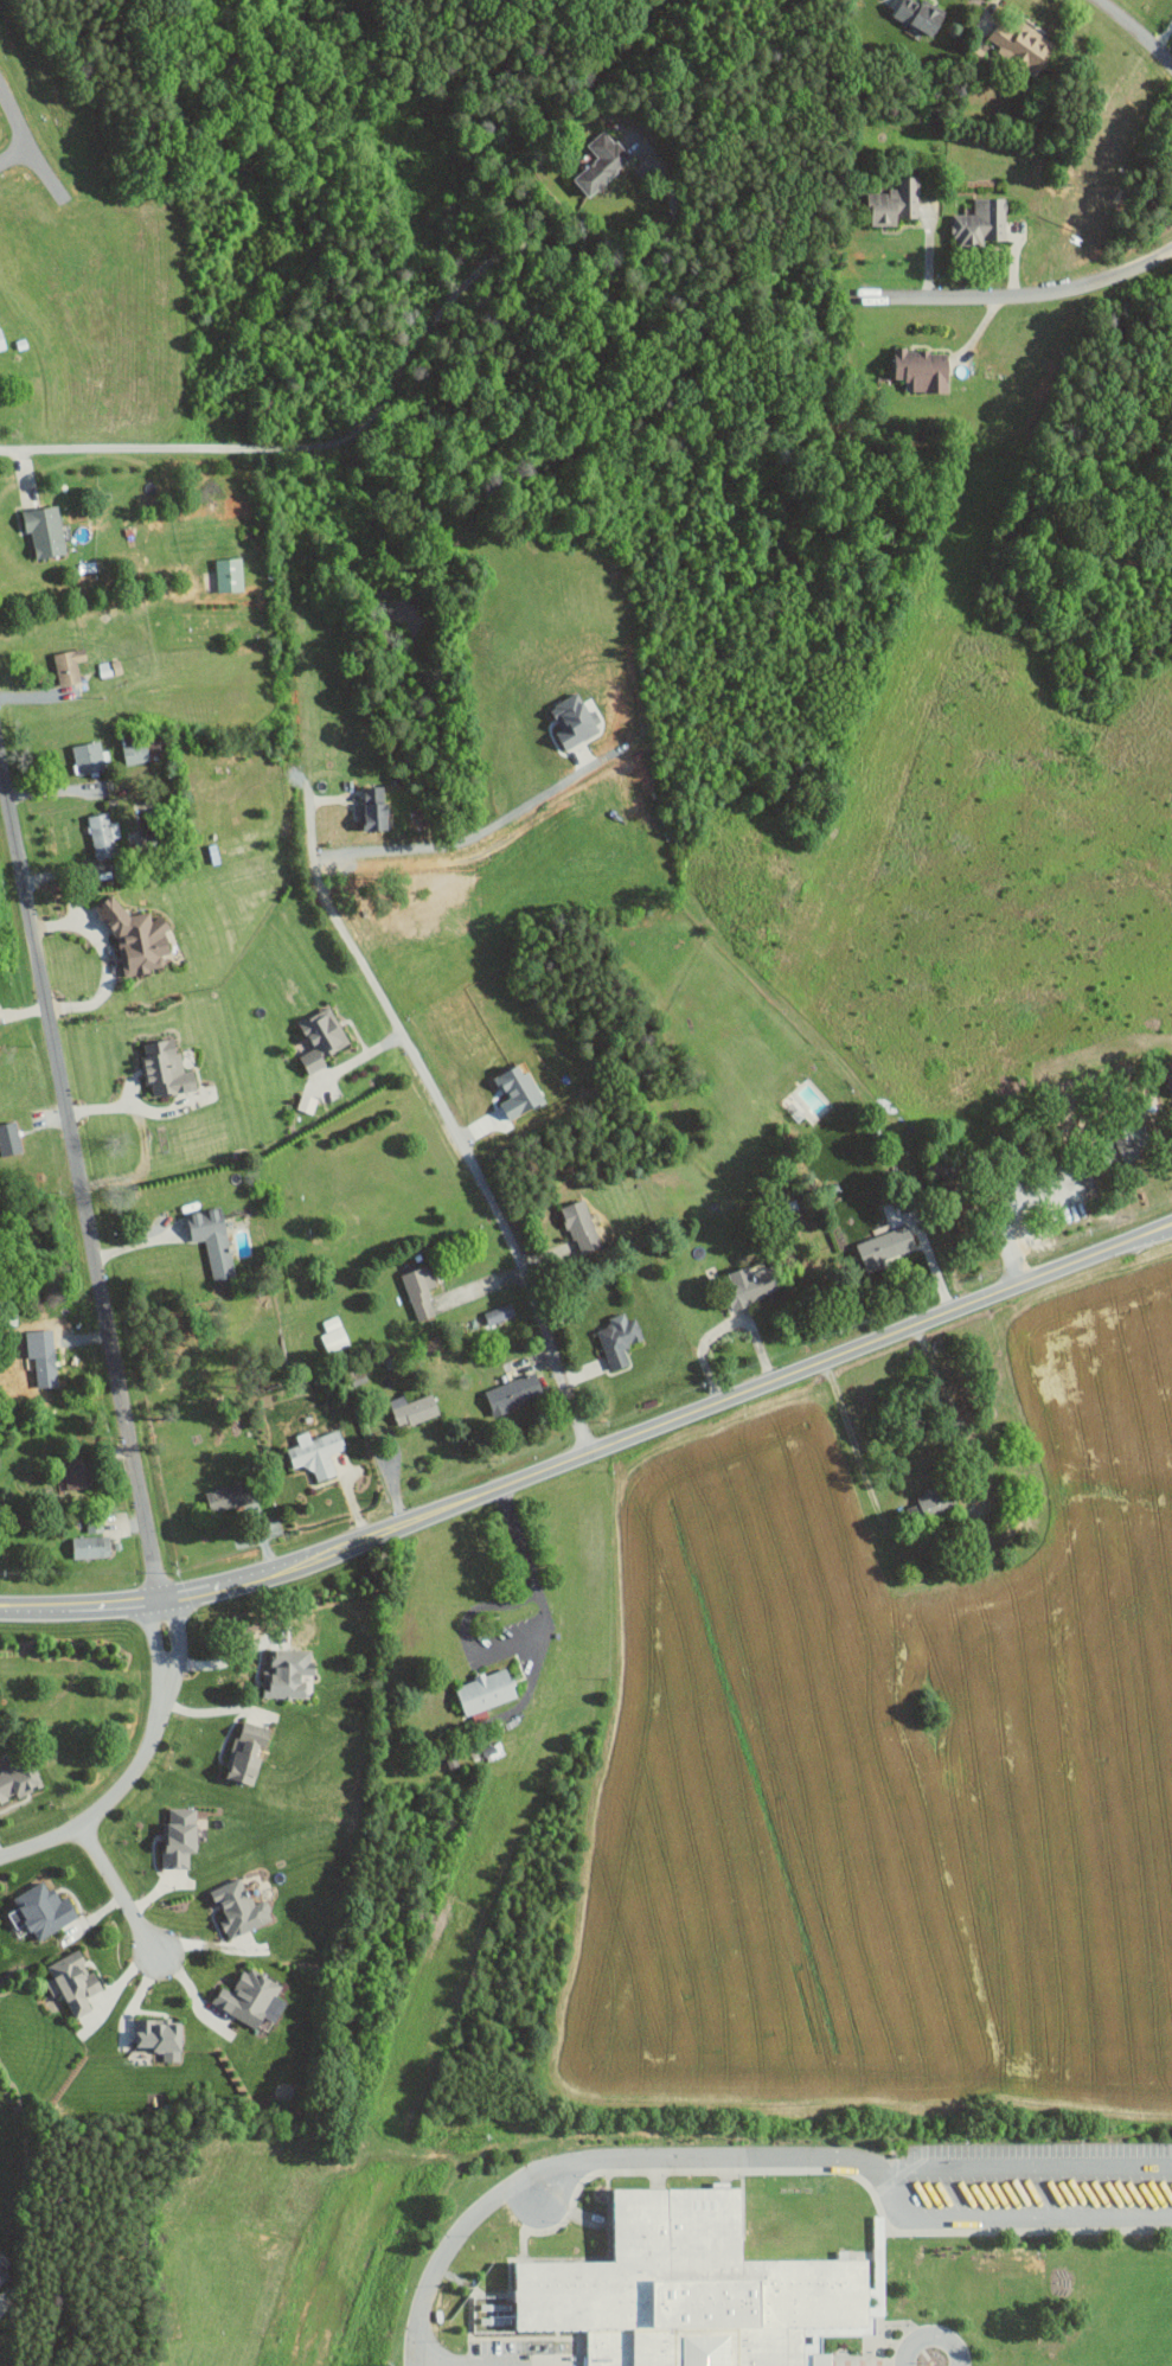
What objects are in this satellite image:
building: (918, 17)
road: (1135, 32)
road: (1163, 37)
building: (1023, 46)
road: (31, 145)
road: (17, 158)
building: (601, 162)
building: (894, 203)
building: (980, 224)
road: (1014, 298)
building: (1, 343)
building: (922, 370)
road: (396, 379)
building: (44, 531)
building: (228, 575)
building: (68, 666)
building: (572, 722)
building: (158, 746)
building: (134, 753)
building: (87, 759)
building: (372, 810)
road: (469, 829)
building: (102, 836)
building: (134, 935)
road: (107, 958)
building: (320, 1037)
building: (165, 1068)
building: (1167, 1076)
building: (306, 1102)
road: (136, 1106)
road: (447, 1118)
building: (8, 1138)
building: (1127, 1143)
road: (79, 1176)
building: (578, 1226)
building: (212, 1240)
building: (884, 1246)
building: (750, 1284)
building: (418, 1290)
building: (498, 1313)
road: (724, 1326)
building: (619, 1338)
building: (43, 1339)
building: (41, 1368)
building: (513, 1392)
building: (412, 1408)
building: (315, 1452)
road: (594, 1452)
road: (857, 1454)
building: (76, 1472)
building: (228, 1497)
building: (931, 1502)
road: (519, 1541)
building: (89, 1546)
road: (474, 1649)
building: (286, 1674)
building: (486, 1690)
building: (245, 1753)
road: (135, 1765)
building: (17, 1779)
building: (179, 1836)
road: (119, 1893)
building: (238, 1908)
building: (40, 1910)
building: (71, 1982)
building: (248, 1996)
building: (160, 2036)
road: (749, 2156)
road: (1017, 2167)
road: (758, 2170)
parking lot: (1038, 2186)
road: (1026, 2231)
building: (2, 2275)
building: (686, 2289)
road: (931, 2336)

